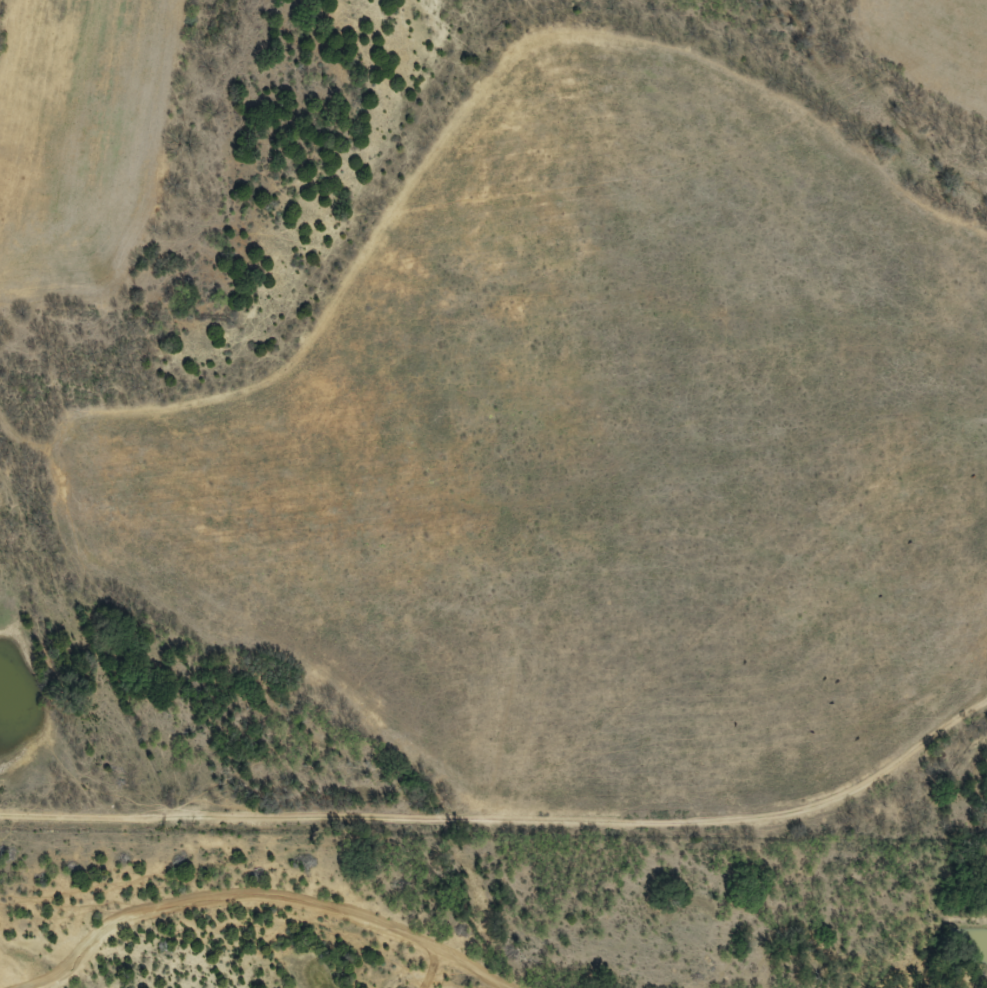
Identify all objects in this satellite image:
road: (501, 815)

